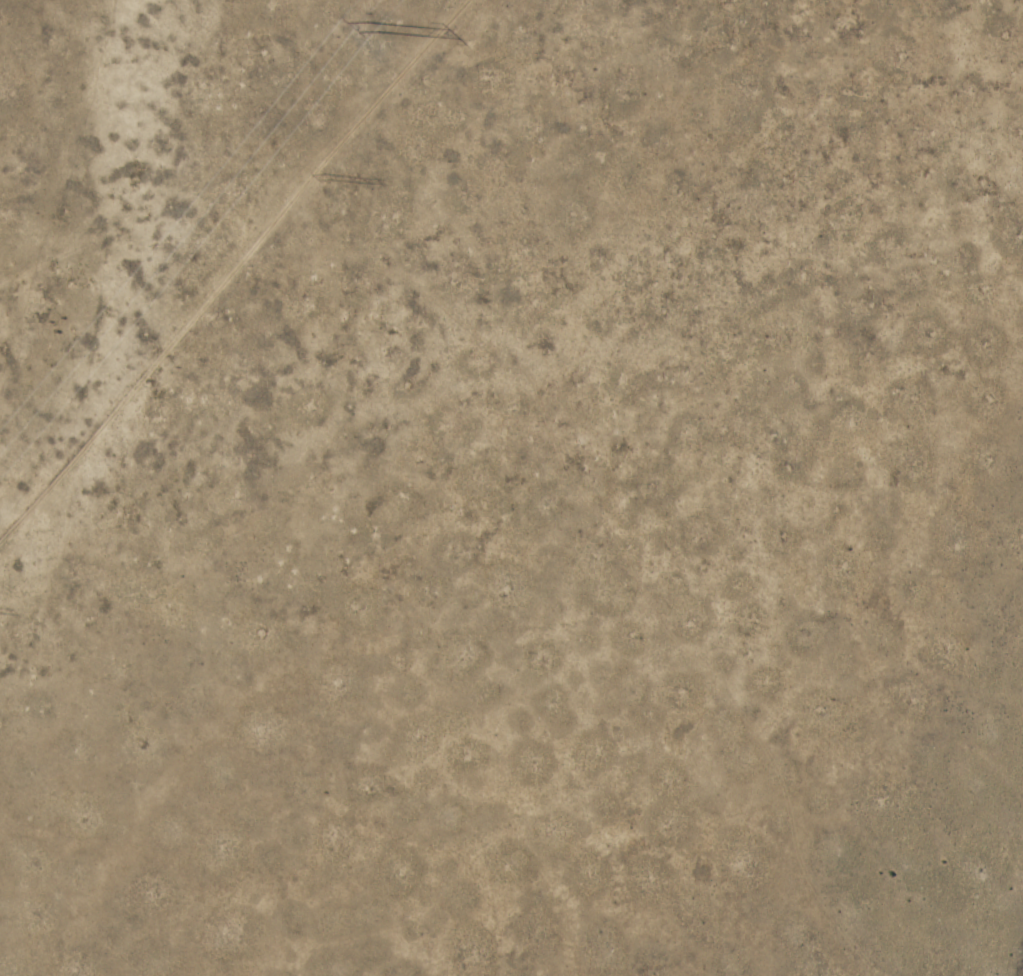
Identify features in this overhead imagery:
power tower: (372, 30)
power tower: (322, 186)
road: (231, 269)

